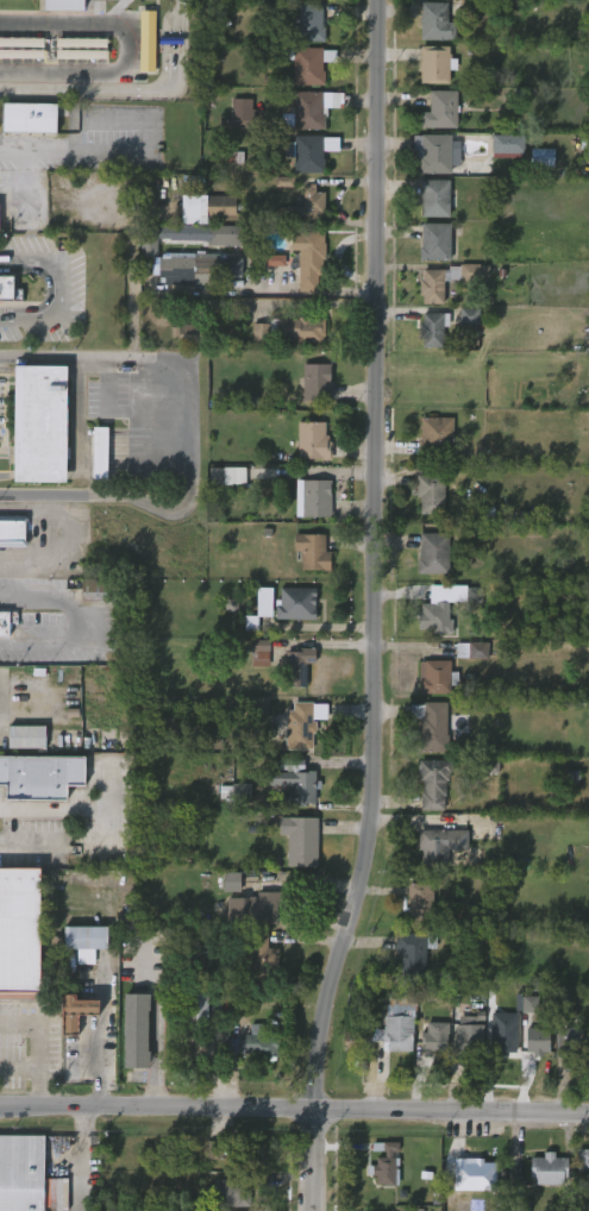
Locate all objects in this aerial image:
building: (64, 5)
building: (437, 20)
building: (308, 21)
building: (148, 40)
road: (123, 48)
building: (306, 64)
building: (433, 64)
building: (303, 108)
building: (438, 111)
building: (239, 113)
building: (30, 118)
building: (506, 146)
building: (308, 152)
building: (437, 152)
road: (74, 153)
building: (543, 157)
building: (284, 181)
road: (24, 186)
building: (432, 197)
building: (305, 207)
building: (205, 209)
building: (201, 233)
building: (433, 241)
building: (274, 259)
building: (307, 259)
building: (200, 266)
building: (434, 284)
building: (8, 289)
road: (59, 289)
building: (469, 316)
building: (431, 330)
building: (282, 332)
building: (184, 334)
building: (314, 382)
building: (39, 423)
building: (437, 435)
road: (186, 439)
building: (312, 440)
building: (100, 453)
building: (225, 475)
building: (431, 492)
building: (315, 497)
road: (64, 529)
building: (13, 531)
building: (311, 551)
building: (434, 553)
building: (96, 590)
building: (466, 597)
building: (264, 602)
building: (294, 603)
road: (376, 608)
building: (434, 617)
road: (74, 623)
building: (2, 626)
building: (471, 650)
building: (258, 652)
building: (297, 667)
building: (437, 677)
building: (258, 709)
building: (294, 726)
building: (432, 726)
building: (27, 738)
building: (40, 777)
building: (292, 783)
building: (431, 783)
building: (239, 792)
road: (54, 807)
building: (299, 840)
building: (440, 845)
road: (32, 846)
building: (581, 854)
building: (225, 881)
building: (419, 903)
building: (251, 908)
building: (20, 930)
building: (83, 936)
building: (409, 953)
building: (259, 956)
building: (530, 1004)
building: (203, 1005)
building: (396, 1019)
building: (73, 1028)
building: (136, 1031)
building: (470, 1033)
building: (433, 1037)
building: (570, 1039)
building: (502, 1040)
building: (355, 1041)
building: (535, 1041)
building: (255, 1043)
road: (38, 1046)
road: (155, 1049)
road: (19, 1067)
road: (294, 1109)
building: (232, 1152)
building: (582, 1157)
building: (382, 1163)
building: (546, 1169)
building: (470, 1171)
building: (25, 1175)
building: (236, 1192)
building: (518, 1205)

